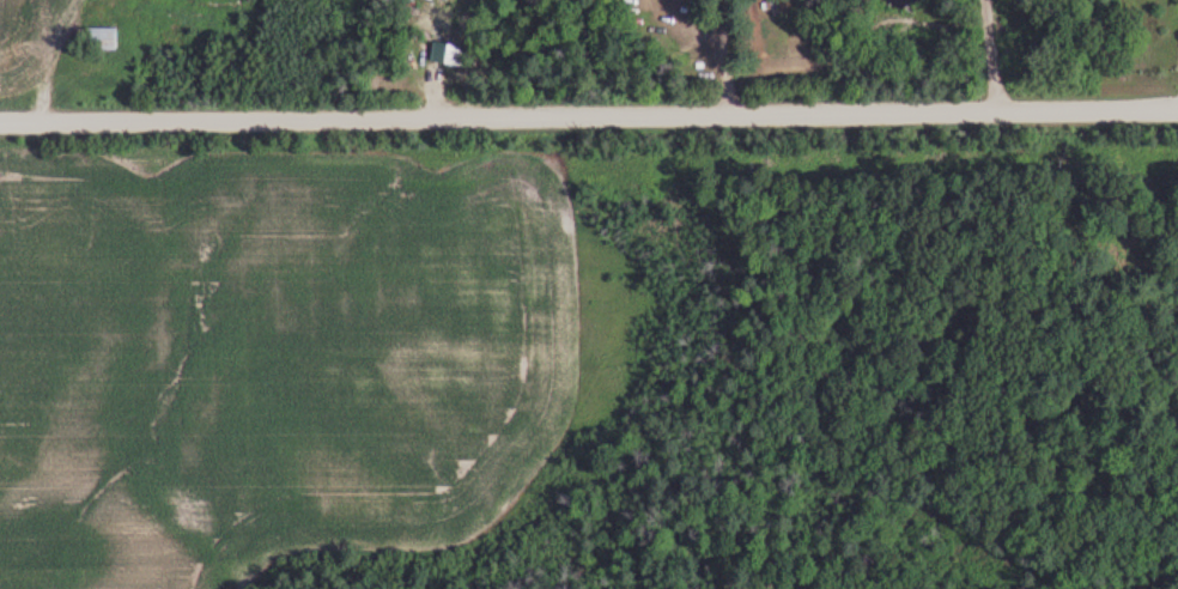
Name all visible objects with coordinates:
building: (102, 40)
road: (728, 55)
road: (995, 55)
road: (588, 114)

